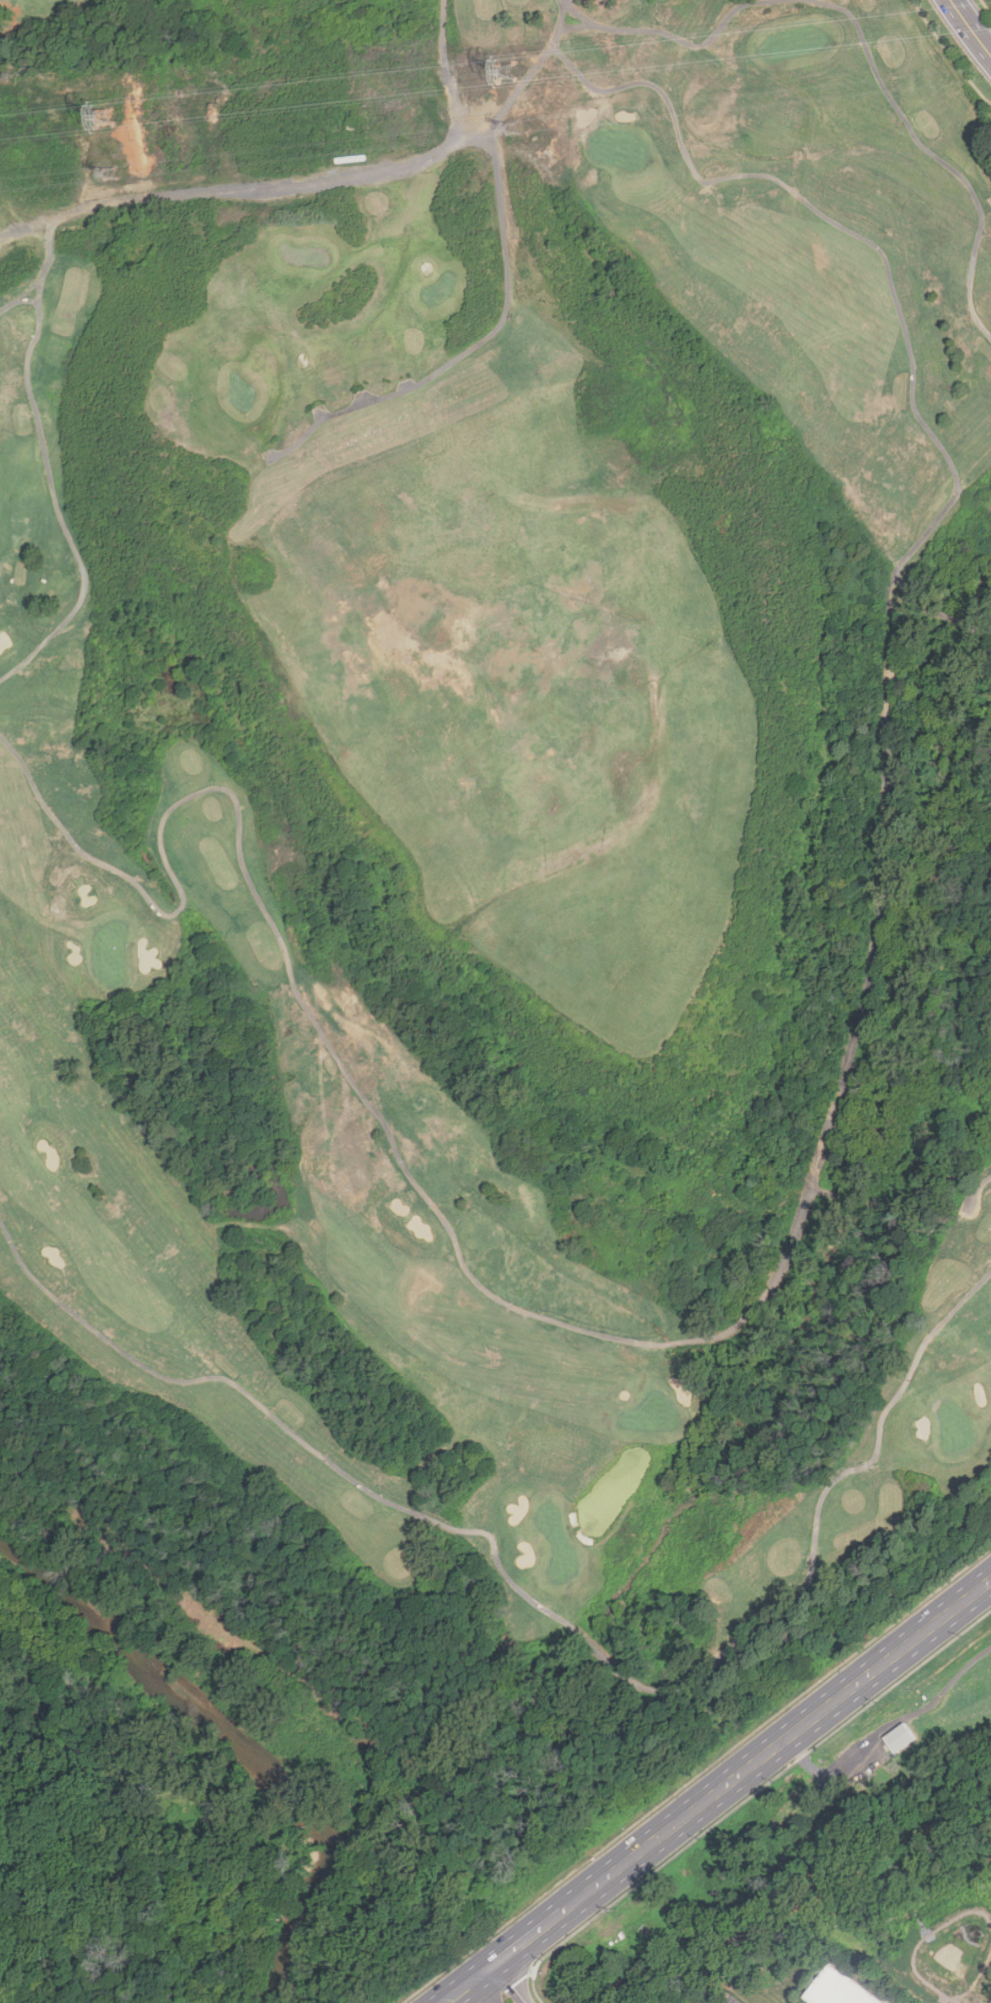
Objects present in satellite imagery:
park: (987, 5)
road: (578, 26)
road: (971, 26)
road: (682, 41)
power tower: (507, 72)
road: (442, 73)
power tower: (99, 119)
power tower: (513, 131)
park: (615, 148)
road: (933, 153)
power tower: (107, 175)
road: (252, 187)
road: (818, 197)
road: (13, 212)
road: (44, 262)
road: (515, 283)
park: (338, 440)
road: (66, 486)
road: (907, 588)
road: (950, 618)
road: (988, 631)
park: (495, 899)
park: (112, 956)
road: (983, 1188)
road: (568, 1325)
road: (288, 1415)
park: (651, 1415)
park: (946, 1433)
road: (825, 1523)
park: (552, 1545)
river: (94, 1618)
road: (592, 1641)
building: (899, 1738)
river: (263, 1774)
road: (697, 1776)
road: (760, 1790)
road: (718, 1793)
river: (302, 1928)
road: (516, 1980)
road: (509, 1984)
building: (841, 1989)
road: (477, 1993)

